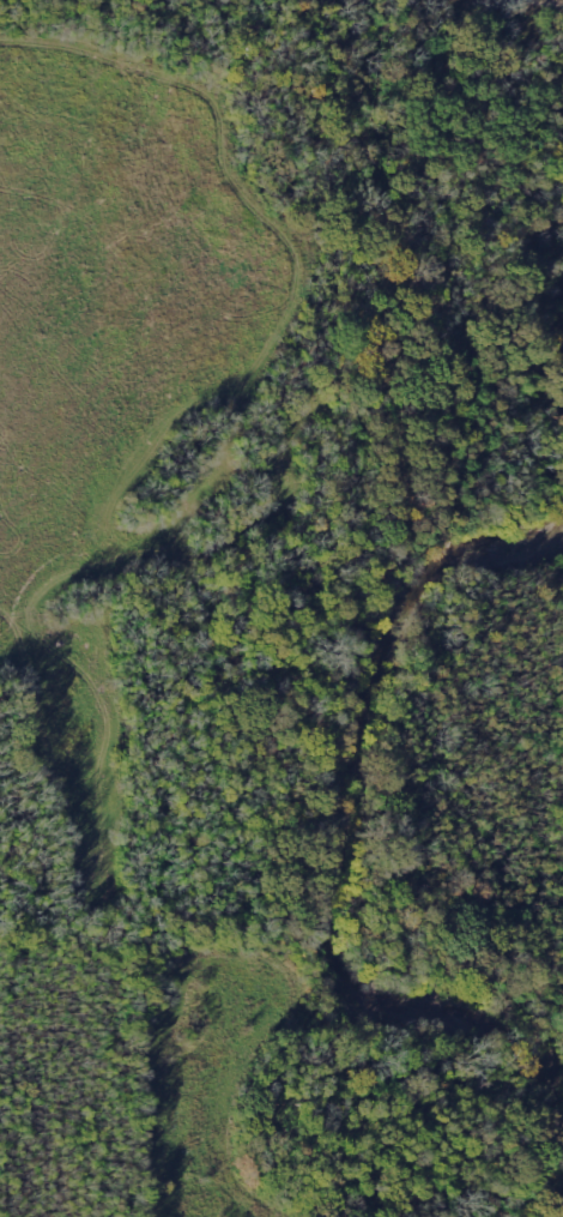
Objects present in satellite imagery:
road: (550, 0)

